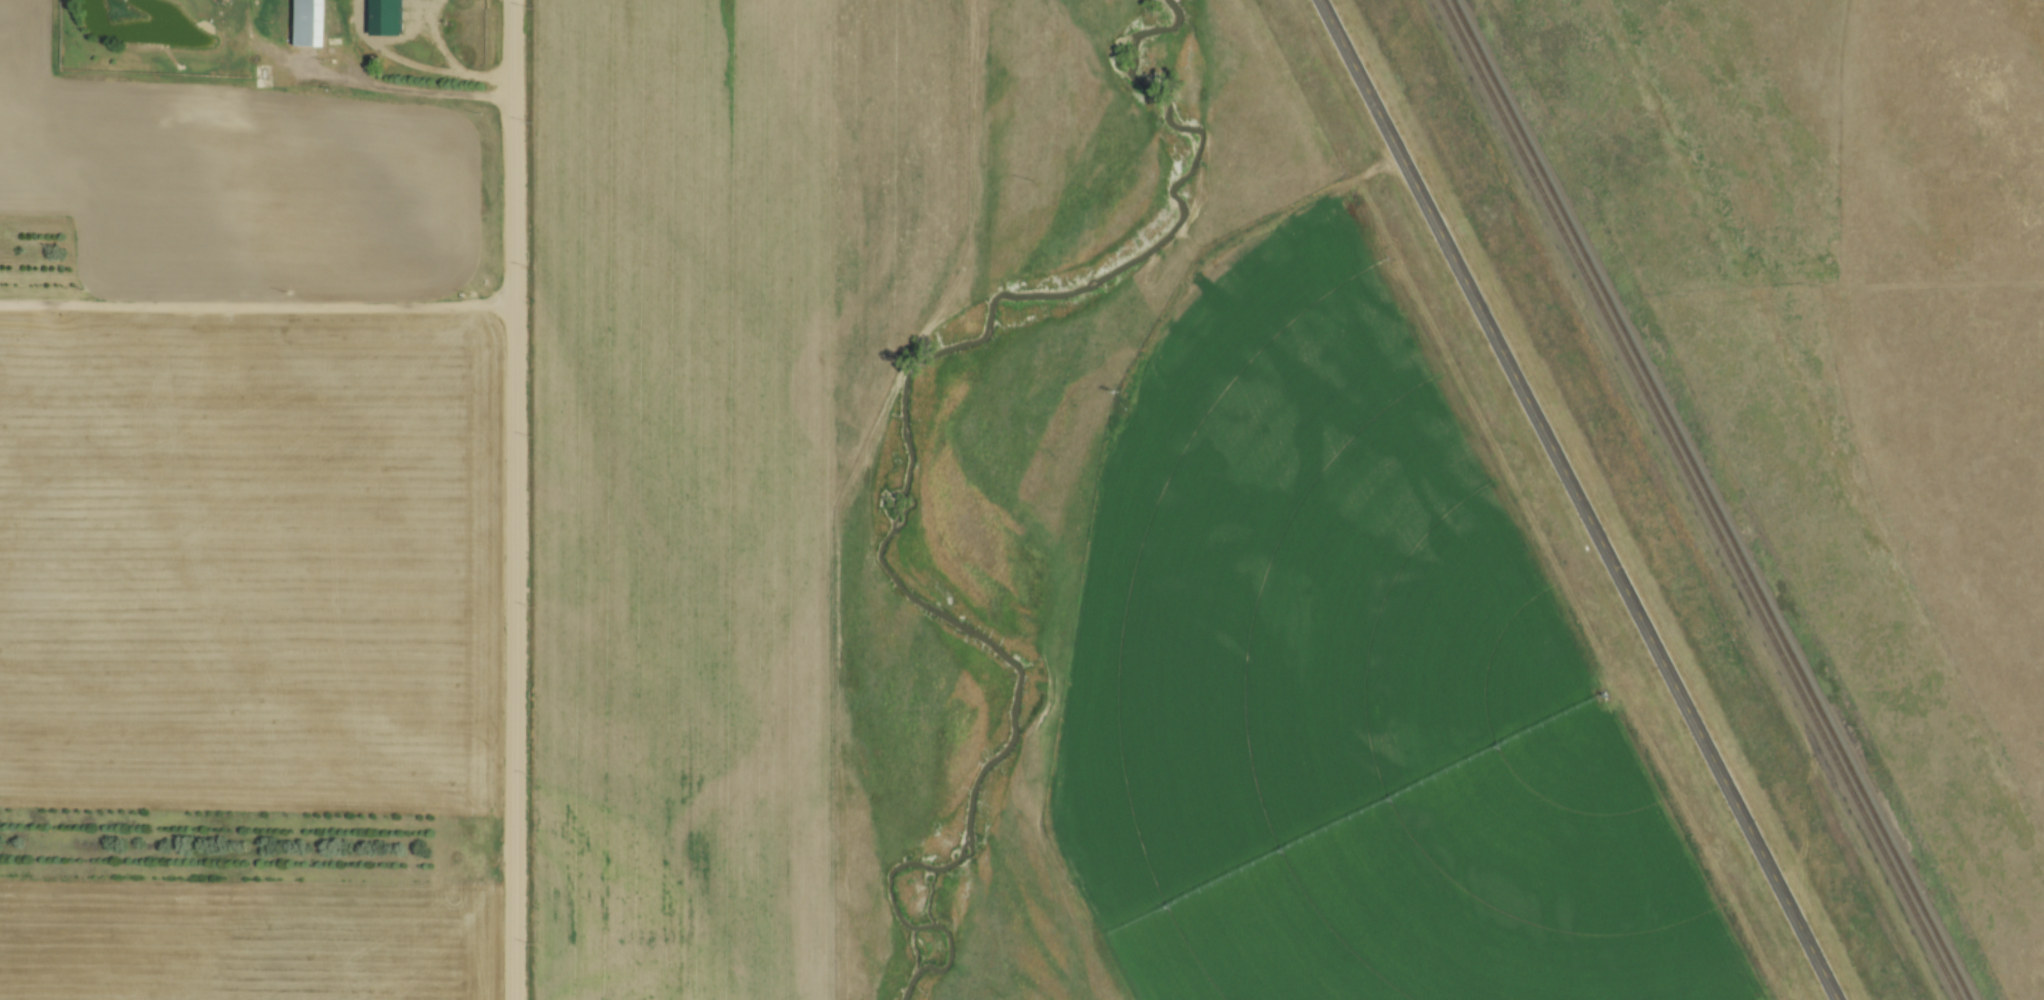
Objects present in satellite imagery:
road: (259, 0)
building: (311, 21)
road: (421, 66)
road: (361, 84)
crop: (50, 182)
road: (259, 304)
crop: (715, 455)
road: (517, 499)
road: (1581, 500)
railway: (1702, 500)
railway: (1715, 500)
crop: (251, 631)
crop: (1355, 685)

